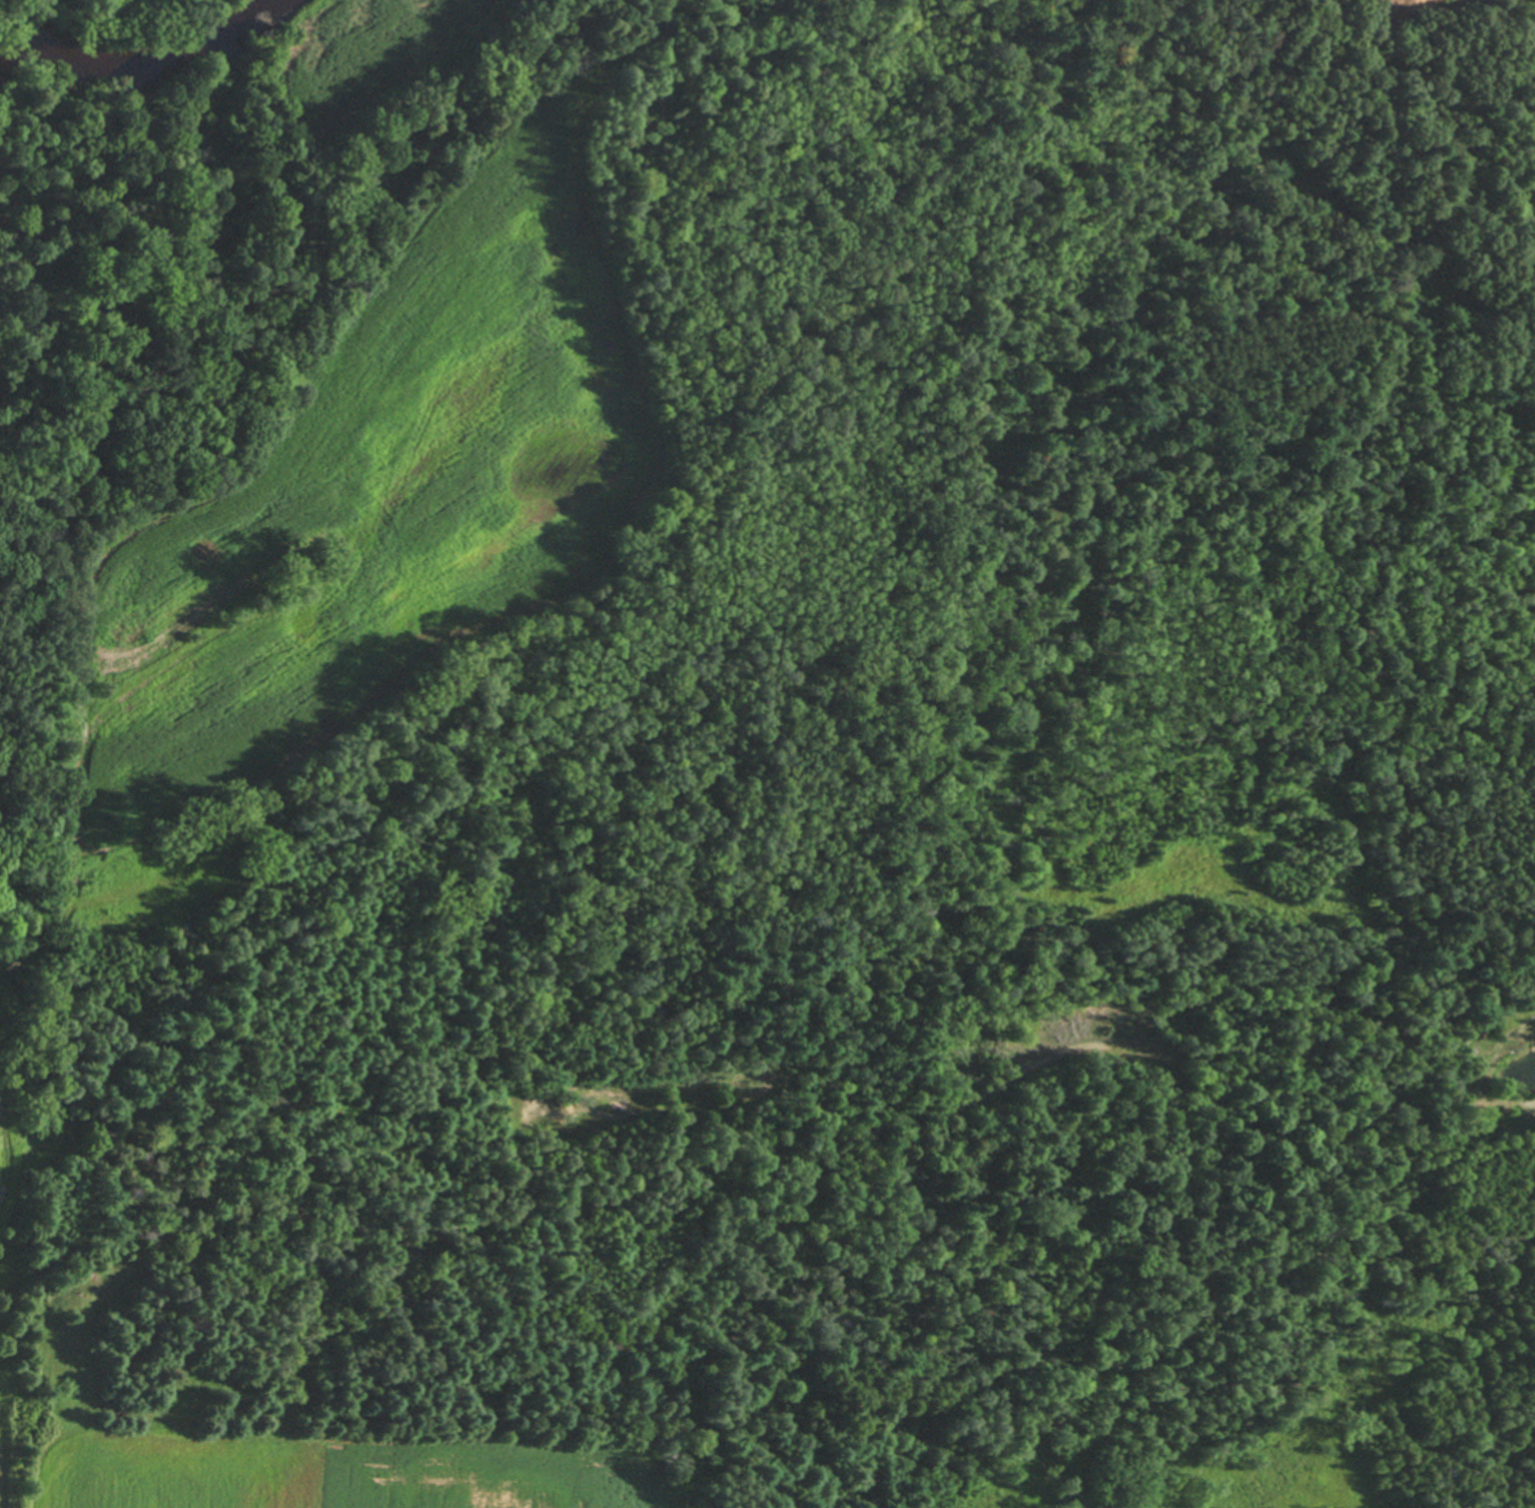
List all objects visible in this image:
river: (152, 72)

